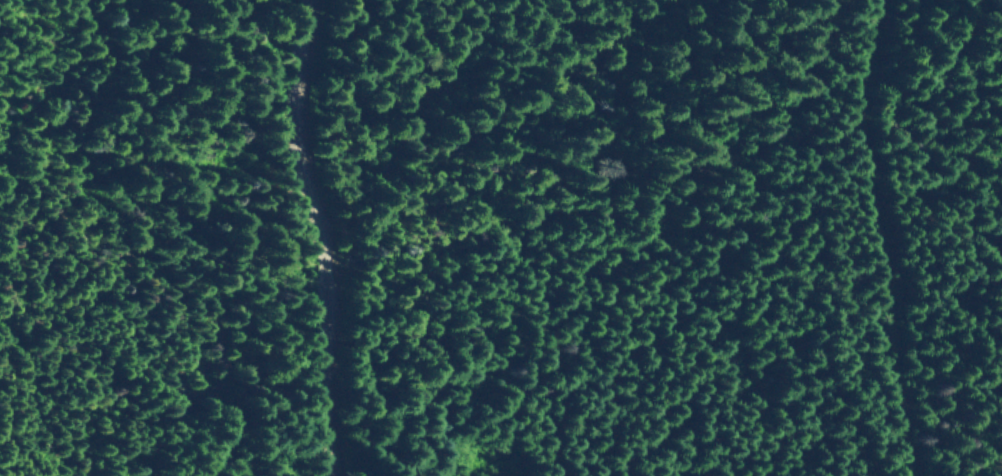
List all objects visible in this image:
road: (313, 237)

